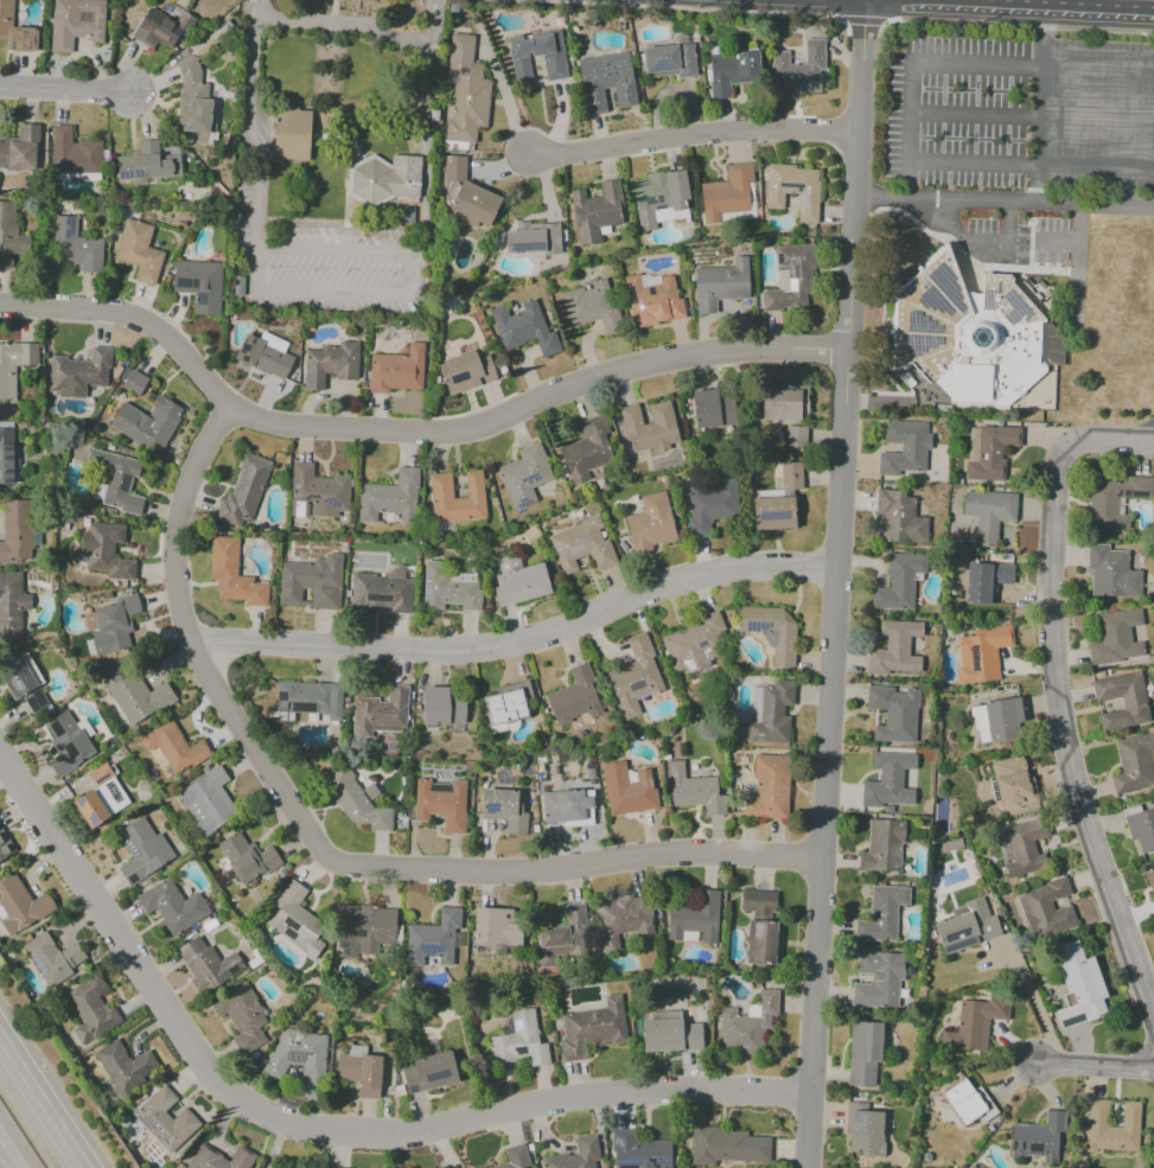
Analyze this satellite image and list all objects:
road: (1069, 2)
road: (250, 8)
road: (687, 8)
road: (865, 19)
road: (428, 21)
building: (186, 23)
road: (339, 23)
building: (75, 24)
road: (1020, 27)
building: (15, 31)
building: (155, 33)
road: (1040, 33)
rooftop solar panel: (28, 45)
rooftop solar panel: (11, 46)
building: (670, 62)
rooftop solar panel: (619, 64)
rooftop solar panel: (662, 65)
rooftop solar panel: (602, 66)
building: (555, 68)
building: (798, 70)
building: (733, 71)
building: (606, 82)
road: (62, 88)
building: (466, 90)
building: (195, 103)
parking lot: (1019, 107)
road: (911, 113)
road: (1032, 114)
road: (1035, 134)
building: (292, 135)
road: (688, 140)
building: (20, 148)
building: (75, 153)
building: (148, 165)
building: (454, 167)
rooftop solar panel: (126, 177)
rooftop solar panel: (138, 177)
building: (384, 180)
rooftop solar panel: (791, 186)
building: (793, 190)
building: (728, 193)
building: (659, 196)
rooftop solar panel: (658, 199)
rooftop solar panel: (646, 200)
rooftop solar panel: (804, 202)
road: (1002, 202)
building: (474, 205)
rooftop solar panel: (659, 208)
building: (595, 210)
rooftop solar panel: (71, 228)
building: (9, 235)
building: (533, 241)
road: (1057, 242)
road: (977, 243)
building: (74, 245)
rooftop solar panel: (524, 249)
building: (139, 251)
rooftop solar panel: (780, 259)
road: (1076, 263)
rooftop solar panel: (796, 272)
building: (793, 275)
building: (200, 283)
rooftop solar panel: (946, 286)
road: (318, 292)
building: (721, 292)
building: (655, 295)
rooftop solar panel: (936, 295)
rooftop solar panel: (988, 296)
rooftop solar panel: (1018, 305)
building: (592, 307)
rooftop solar panel: (917, 318)
building: (523, 327)
building: (973, 334)
rooftop solar panel: (253, 342)
rooftop solar panel: (914, 345)
rooftop solar panel: (244, 347)
building: (263, 358)
rooftop solar panel: (244, 359)
building: (331, 365)
building: (13, 366)
building: (397, 370)
building: (466, 372)
building: (79, 374)
building: (135, 383)
building: (805, 398)
building: (782, 404)
building: (707, 409)
building: (147, 423)
building: (650, 428)
road: (407, 432)
building: (795, 438)
road: (1109, 442)
rooftop solar panel: (9, 448)
building: (588, 448)
building: (905, 452)
building: (994, 453)
building: (7, 458)
rooftop solar panel: (9, 458)
rooftop solar panel: (9, 472)
building: (524, 476)
building: (792, 476)
rooftop solar panel: (533, 478)
rooftop solar panel: (8, 481)
building: (119, 481)
rooftop solar panel: (123, 485)
building: (318, 491)
building: (243, 492)
rooftop solar panel: (310, 497)
building: (390, 498)
building: (458, 498)
building: (1112, 498)
rooftop solar panel: (332, 502)
rooftop solar panel: (523, 502)
building: (710, 505)
building: (773, 513)
building: (989, 515)
rooftop solar panel: (776, 517)
building: (899, 518)
building: (651, 523)
building: (15, 530)
building: (584, 545)
rooftop solar panel: (556, 548)
rooftop solar panel: (579, 551)
building: (106, 553)
building: (1111, 573)
building: (232, 575)
building: (519, 581)
building: (987, 581)
building: (899, 582)
road: (837, 583)
building: (311, 585)
building: (450, 588)
building: (383, 592)
rooftop solar panel: (428, 593)
building: (11, 607)
rooftop solar panel: (758, 626)
building: (111, 627)
building: (772, 631)
building: (1114, 637)
road: (521, 642)
rooftop solar panel: (702, 643)
building: (695, 644)
building: (895, 650)
building: (982, 653)
rooftop solar panel: (690, 664)
rooftop solar panel: (9, 675)
building: (636, 677)
rooftop solar panel: (633, 683)
rooftop solar panel: (18, 684)
building: (24, 684)
building: (578, 696)
building: (136, 697)
building: (1123, 702)
building: (310, 703)
building: (436, 706)
building: (508, 707)
building: (459, 709)
building: (382, 711)
building: (774, 714)
building: (894, 714)
building: (1003, 720)
building: (978, 725)
rooftop solar panel: (763, 735)
road: (1063, 735)
building: (69, 743)
building: (173, 749)
building: (1134, 765)
rooftop solar panel: (103, 778)
building: (888, 781)
building: (1013, 783)
building: (769, 787)
building: (630, 789)
building: (695, 791)
rooftop solar panel: (116, 793)
building: (101, 797)
building: (356, 799)
building: (209, 800)
rooftop solar panel: (81, 803)
building: (441, 803)
building: (566, 806)
building: (504, 808)
building: (888, 809)
rooftop solar panel: (492, 810)
rooftop solar panel: (94, 821)
building: (1141, 831)
building: (5, 845)
building: (884, 847)
building: (142, 849)
building: (1025, 849)
road: (333, 855)
building: (246, 857)
building: (1150, 885)
building: (1045, 894)
building: (759, 901)
building: (20, 906)
building: (172, 907)
building: (693, 914)
building: (882, 914)
building: (624, 920)
building: (297, 921)
rooftop solar panel: (293, 924)
building: (1054, 924)
building: (497, 926)
rooftop solar panel: (760, 927)
building: (968, 927)
building: (370, 930)
rooftop solar panel: (361, 932)
rooftop solar panel: (955, 932)
rooftop solar panel: (294, 933)
building: (561, 937)
building: (438, 938)
building: (765, 943)
rooftop solar panel: (345, 944)
rooftop solar panel: (958, 944)
rooftop solar panel: (428, 947)
rooftop solar panel: (345, 951)
building: (1071, 952)
building: (55, 959)
building: (209, 963)
rooftop solar panel: (231, 974)
building: (879, 979)
building: (1083, 994)
road: (1034, 1007)
building: (90, 1010)
building: (243, 1015)
building: (975, 1023)
building: (748, 1026)
rooftop solar panel: (518, 1027)
building: (593, 1028)
building: (669, 1035)
building: (519, 1042)
building: (865, 1053)
rooftop solar panel: (522, 1054)
building: (299, 1055)
rooftop solar panel: (291, 1057)
rooftop solar panel: (299, 1057)
road: (1092, 1065)
building: (126, 1066)
building: (362, 1071)
building: (431, 1073)
rooftop solar panel: (436, 1078)
rooftop solar panel: (413, 1090)
building: (964, 1102)
road: (42, 1103)
building: (167, 1119)
rooftop solar panel: (855, 1125)
building: (866, 1130)
road: (315, 1131)
building: (1105, 1131)
building: (1040, 1137)
rooftop solar panel: (1012, 1145)
rooftop solar panel: (1021, 1145)
building: (727, 1147)
rooftop solar panel: (1034, 1148)
building: (638, 1151)
building: (576, 1155)
building: (515, 1157)
building: (221, 1159)
road: (5, 1160)
rooftop solar panel: (650, 1160)
building: (334, 1167)
rooftop solar panel: (626, 1167)

